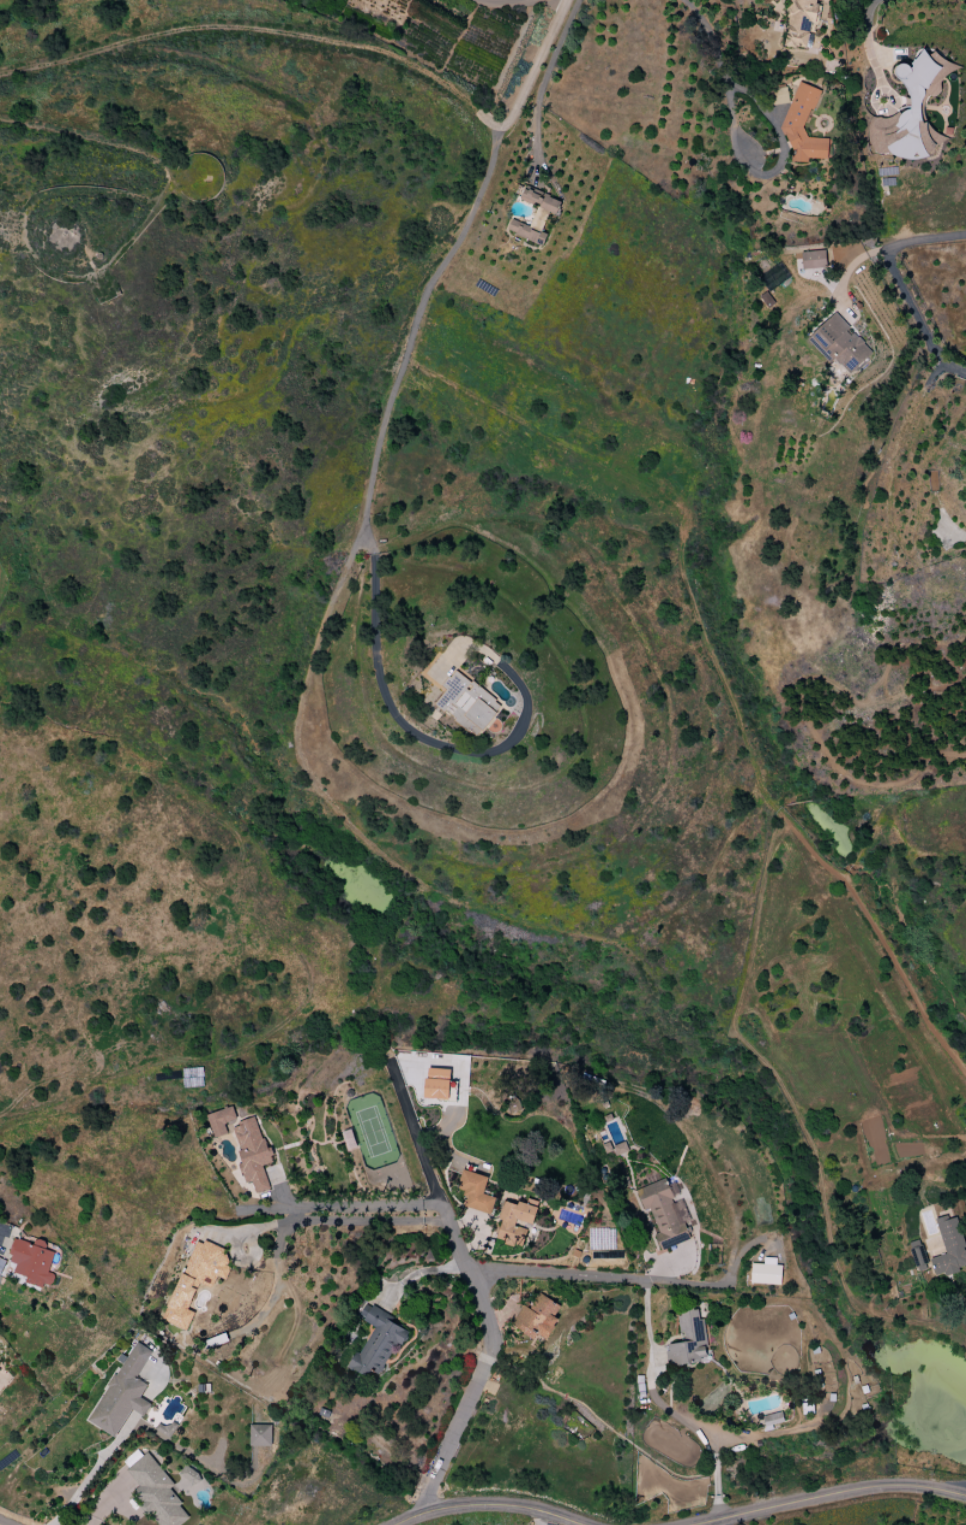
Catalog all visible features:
building: (799, 22)
road: (708, 38)
road: (331, 43)
road: (873, 74)
building: (908, 114)
building: (803, 127)
road: (773, 172)
building: (540, 200)
building: (530, 228)
building: (813, 260)
road: (900, 285)
building: (840, 343)
building: (467, 703)
road: (409, 730)
road: (784, 816)
road: (394, 864)
building: (437, 1084)
building: (513, 1105)
road: (28, 1117)
building: (220, 1121)
building: (252, 1154)
building: (475, 1191)
building: (665, 1214)
road: (367, 1220)
building: (506, 1222)
road: (1, 1239)
building: (950, 1247)
building: (32, 1262)
road: (420, 1271)
building: (766, 1272)
building: (196, 1280)
road: (643, 1282)
road: (477, 1292)
building: (537, 1318)
building: (689, 1340)
building: (376, 1342)
building: (122, 1393)
road: (668, 1407)
building: (772, 1420)
building: (165, 1428)
building: (259, 1435)
building: (188, 1476)
road: (954, 1486)
building: (156, 1492)
road: (825, 1495)
road: (500, 1505)
road: (408, 1520)
road: (549, 1520)
road: (720, 1521)
road: (0, 1524)

